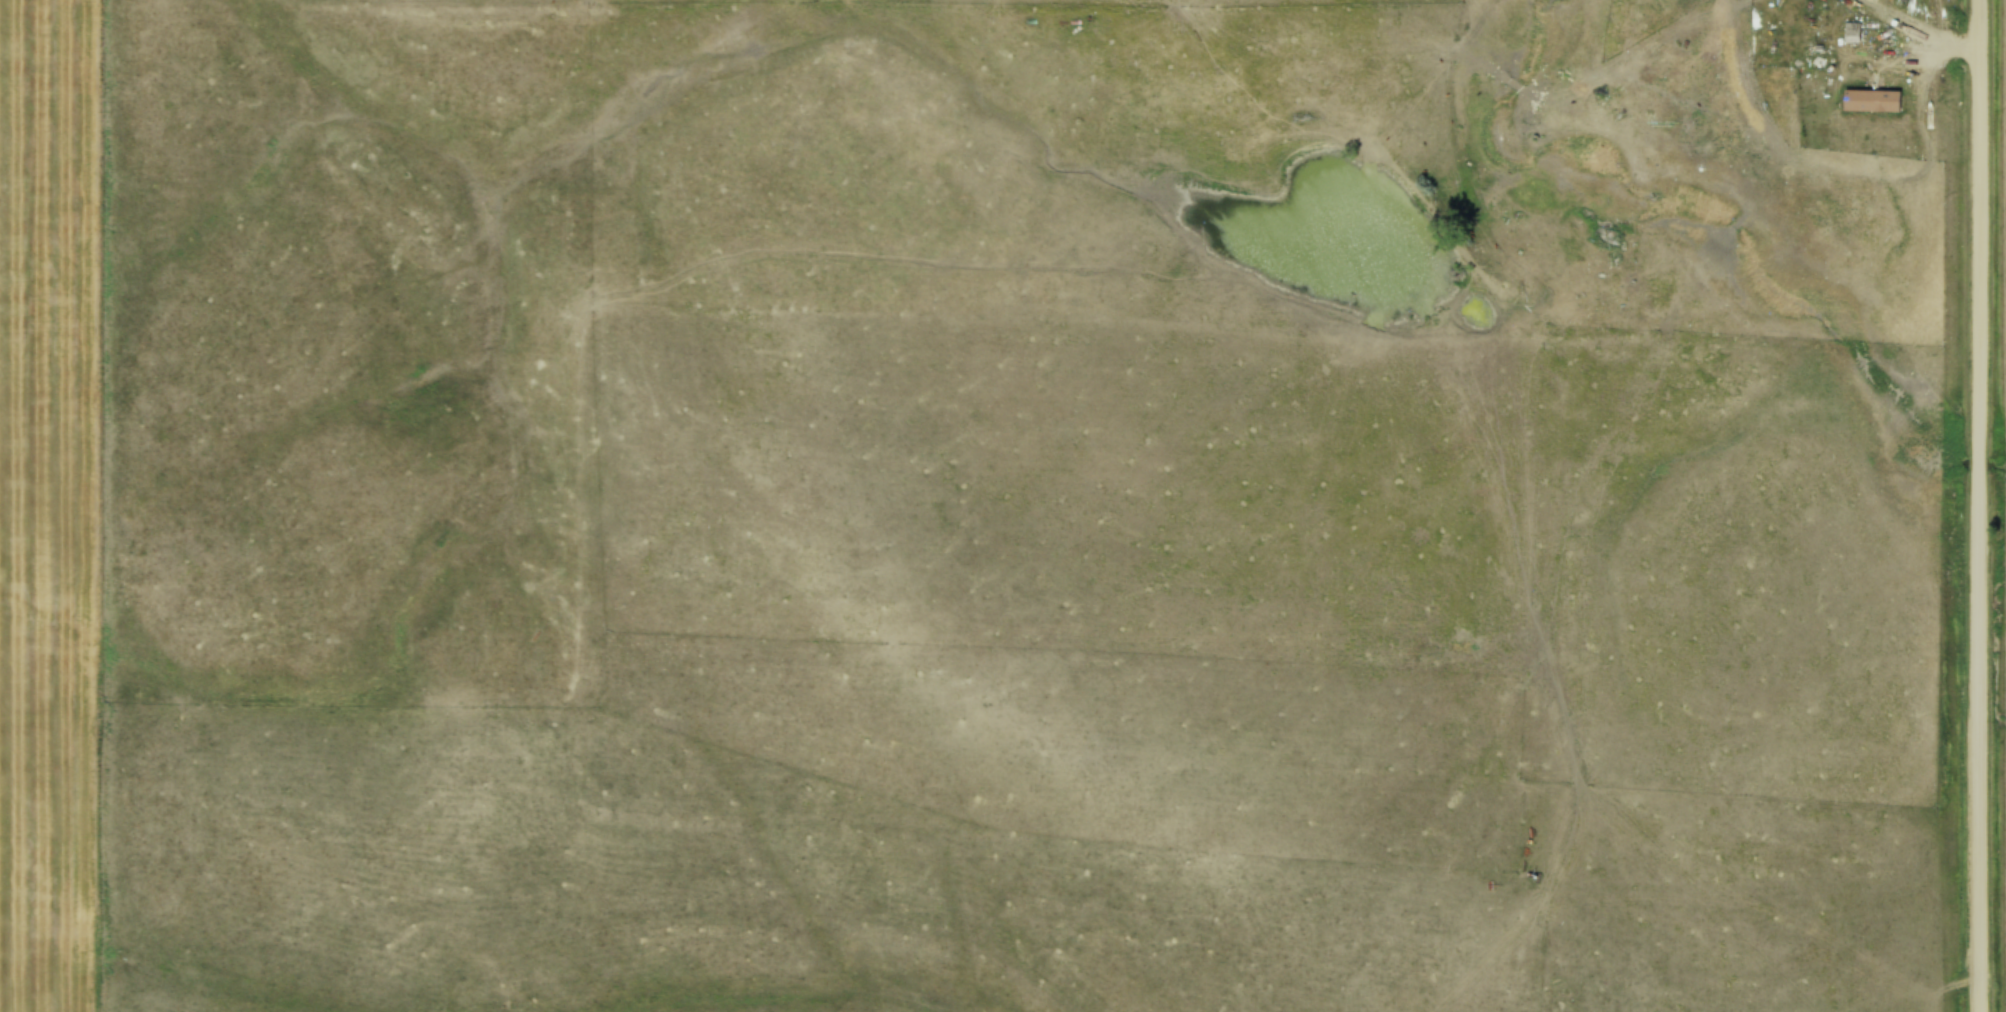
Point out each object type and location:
road: (1913, 32)
building: (1856, 33)
building: (1875, 102)
road: (1978, 506)

